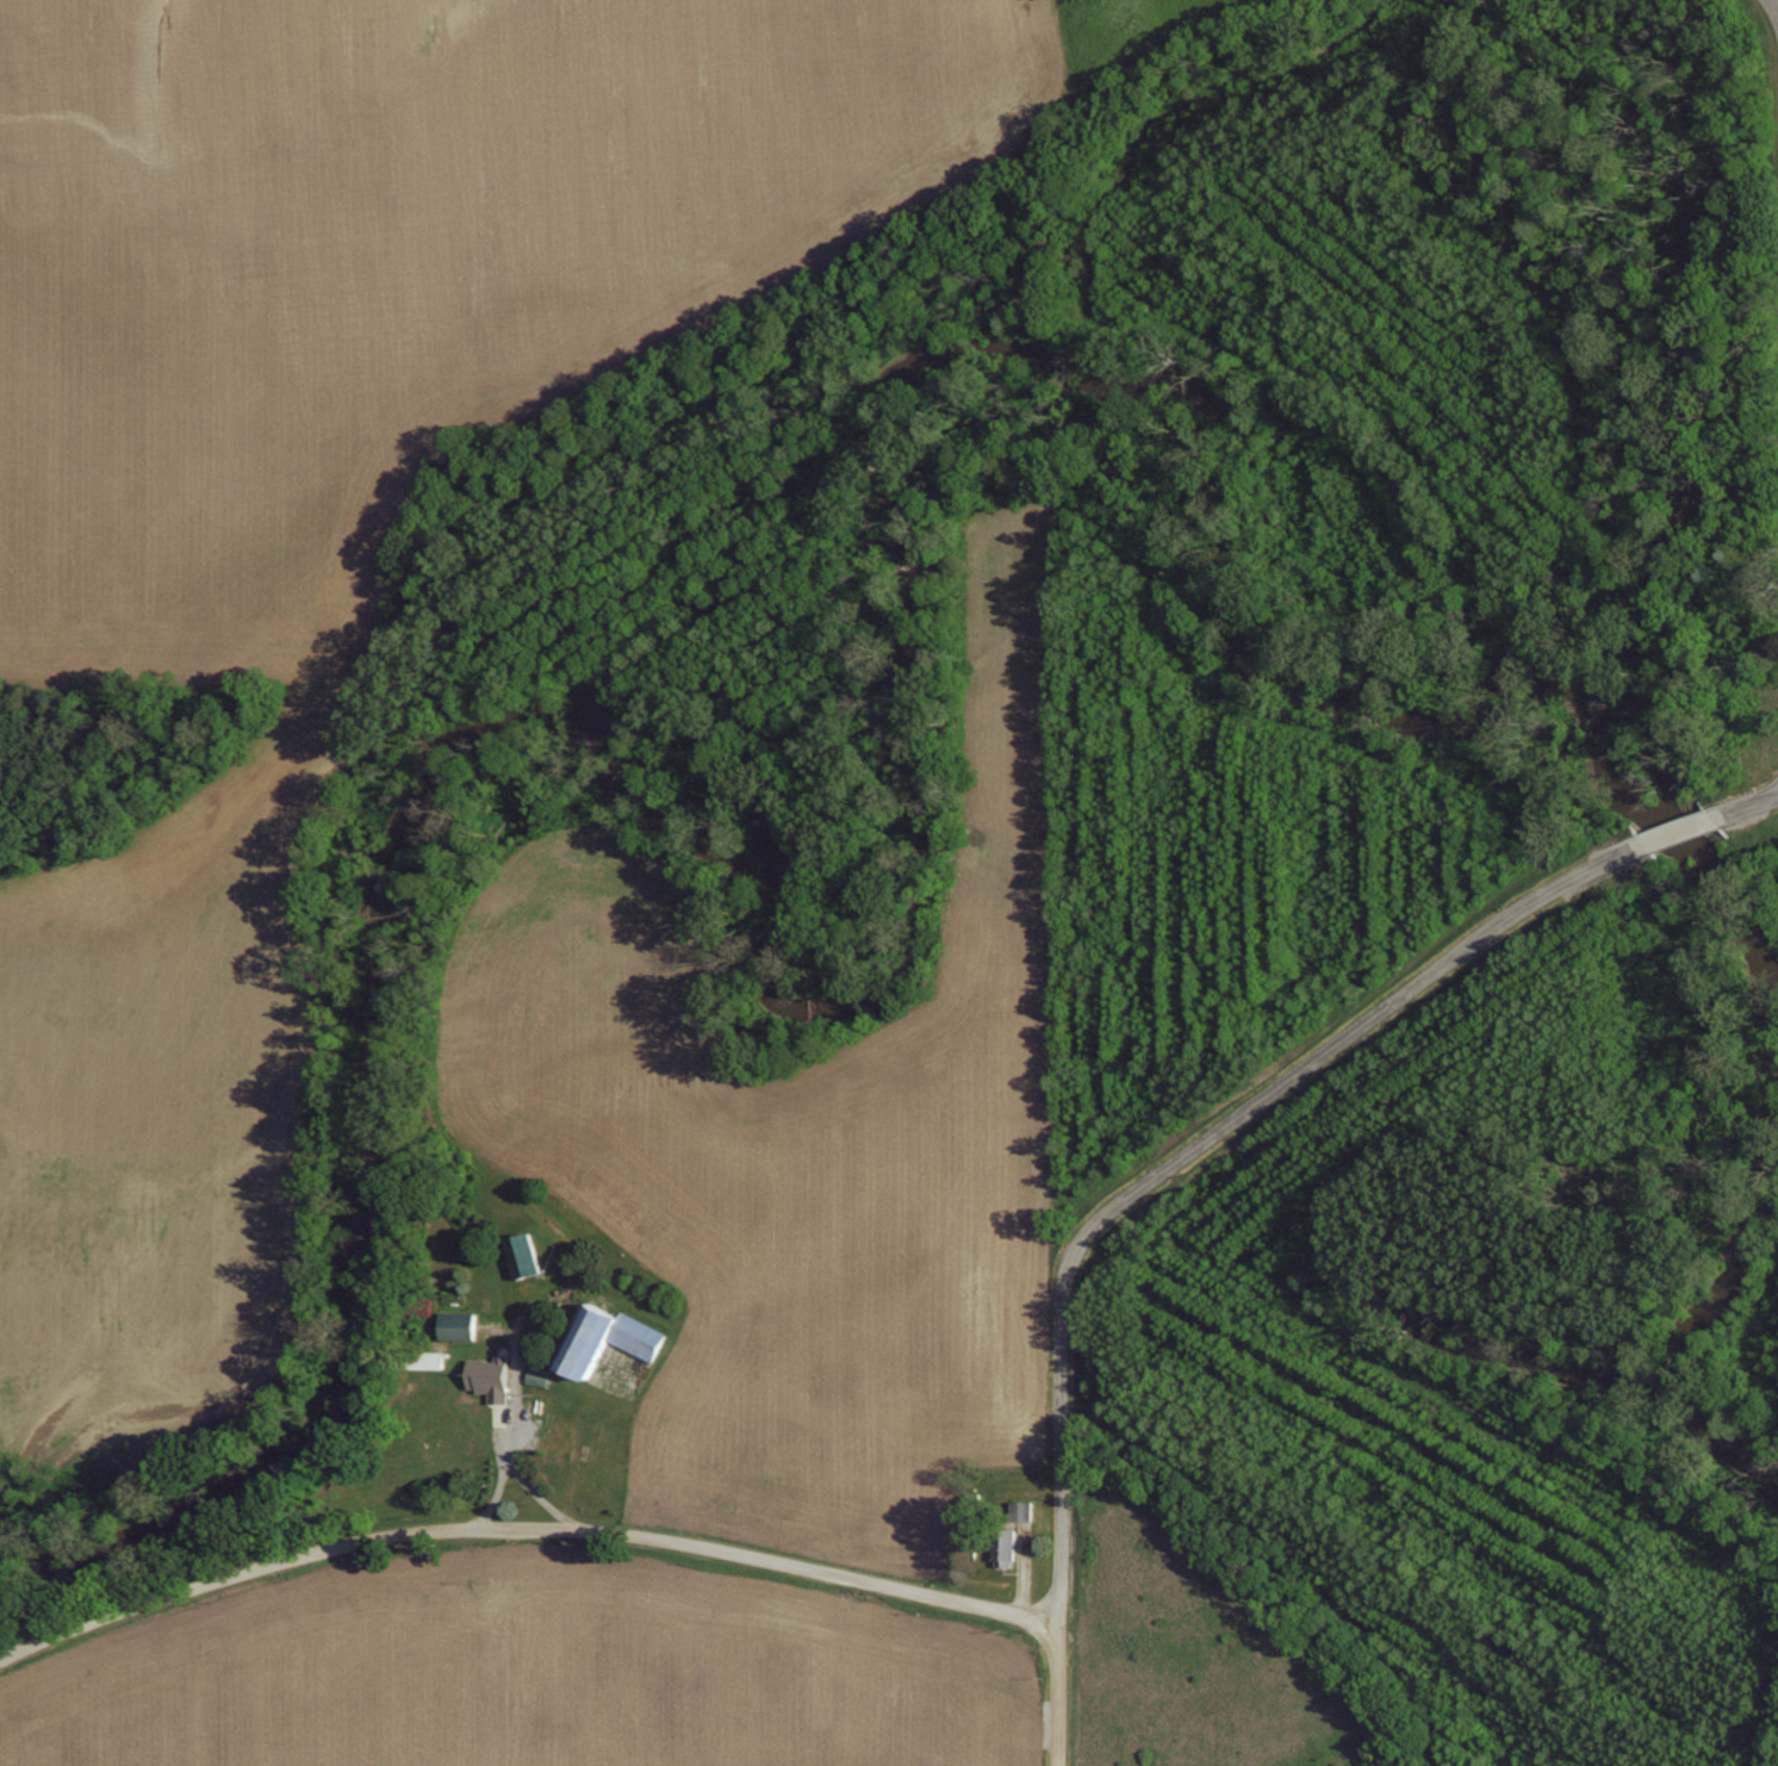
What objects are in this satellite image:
road: (1773, 10)
crop: (378, 265)
road: (1772, 796)
road: (1772, 800)
road: (1739, 812)
road: (1677, 832)
river: (817, 997)
road: (1343, 1038)
crop: (149, 1050)
crop: (814, 1103)
building: (530, 1252)
building: (465, 1324)
building: (614, 1337)
building: (436, 1358)
building: (545, 1374)
building: (497, 1375)
road: (528, 1485)
road: (497, 1493)
road: (1059, 1513)
road: (522, 1528)
crop: (524, 1683)

